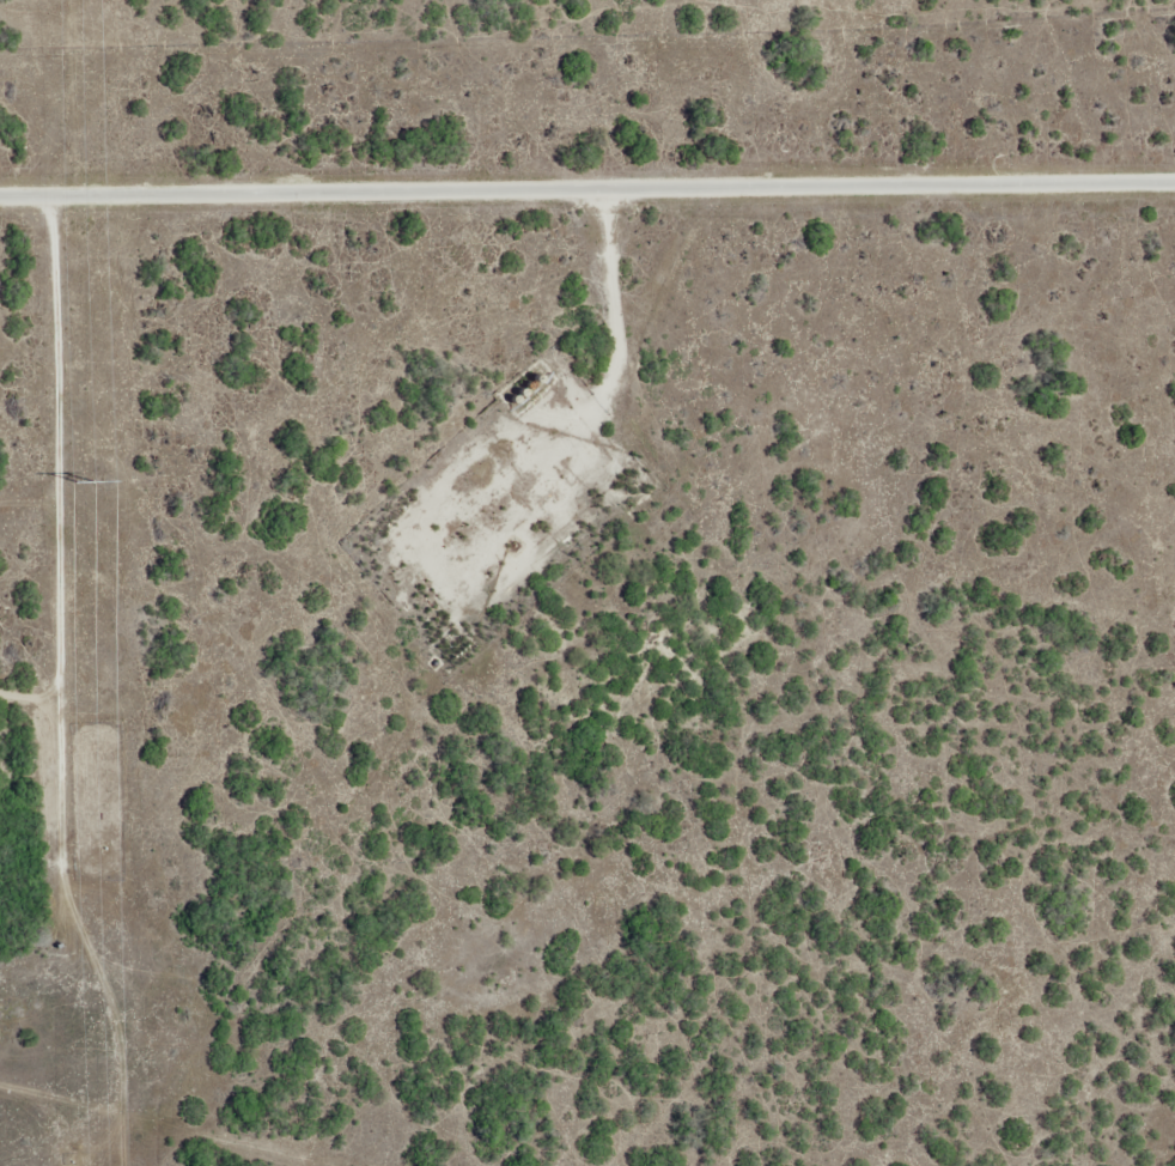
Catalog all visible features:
road: (587, 175)
power tower: (89, 478)

